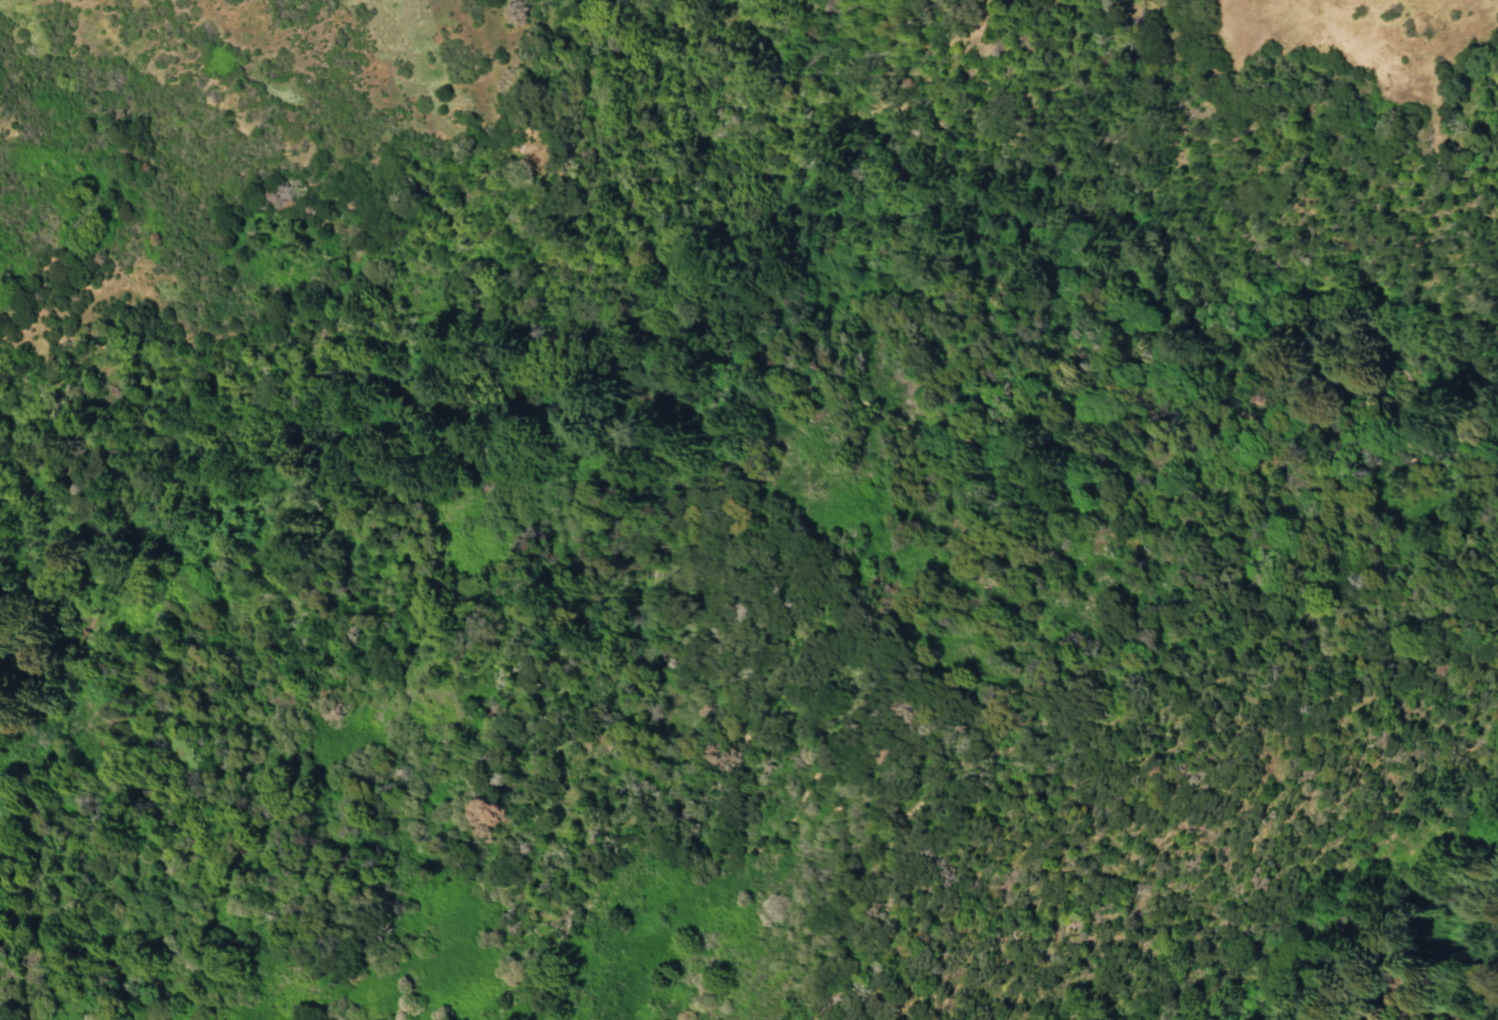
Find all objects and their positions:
road: (704, 647)

